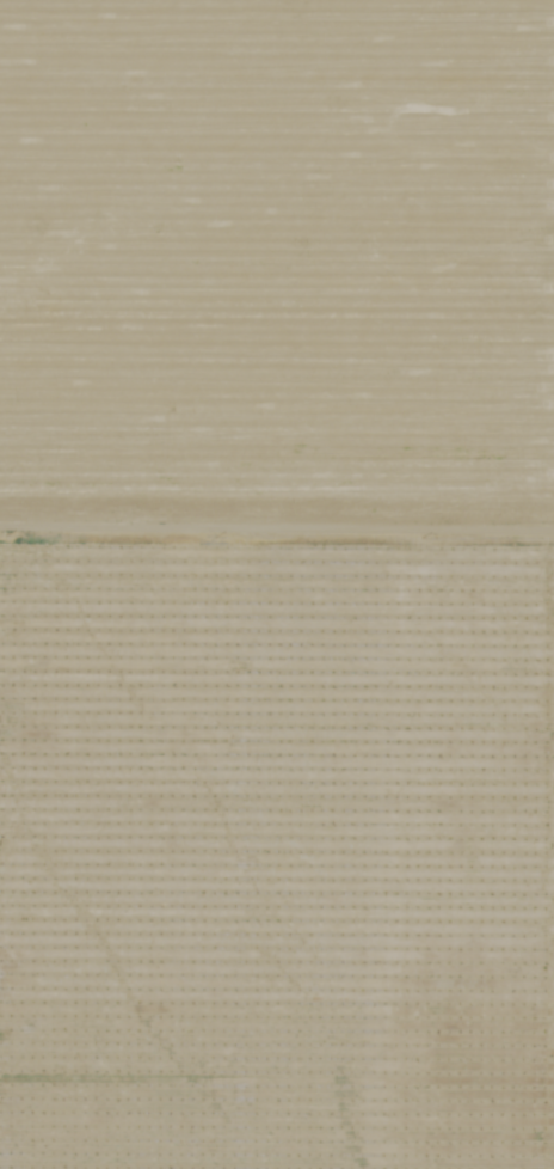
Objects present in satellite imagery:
crop: (277, 584)

